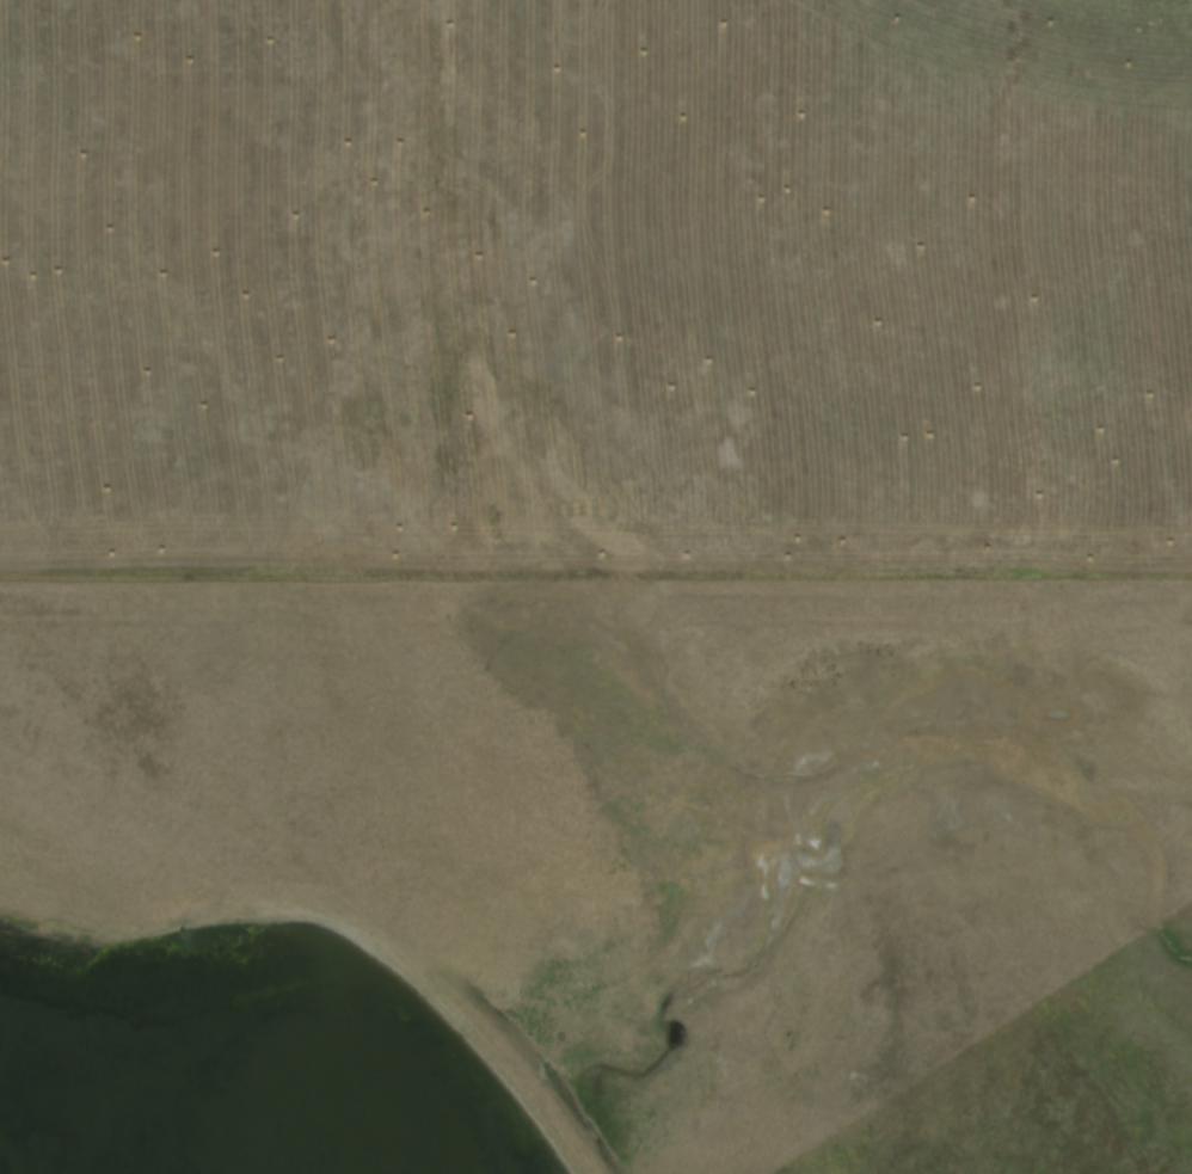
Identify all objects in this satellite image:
dam: (517, 1055)

